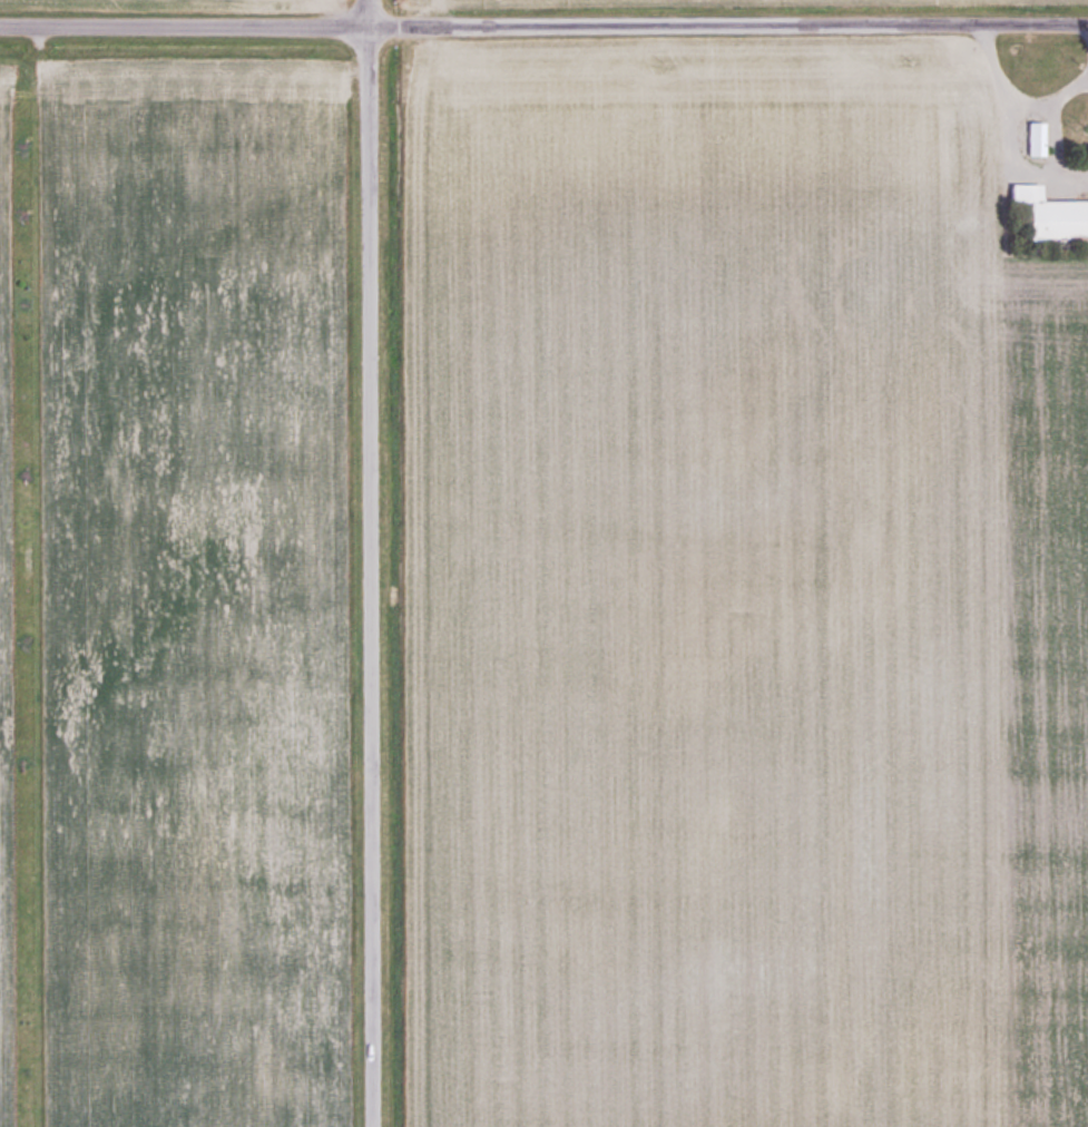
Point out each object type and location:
road: (543, 23)
road: (1087, 26)
road: (1009, 99)
building: (1035, 138)
road: (1018, 170)
building: (1050, 214)
road: (370, 562)

